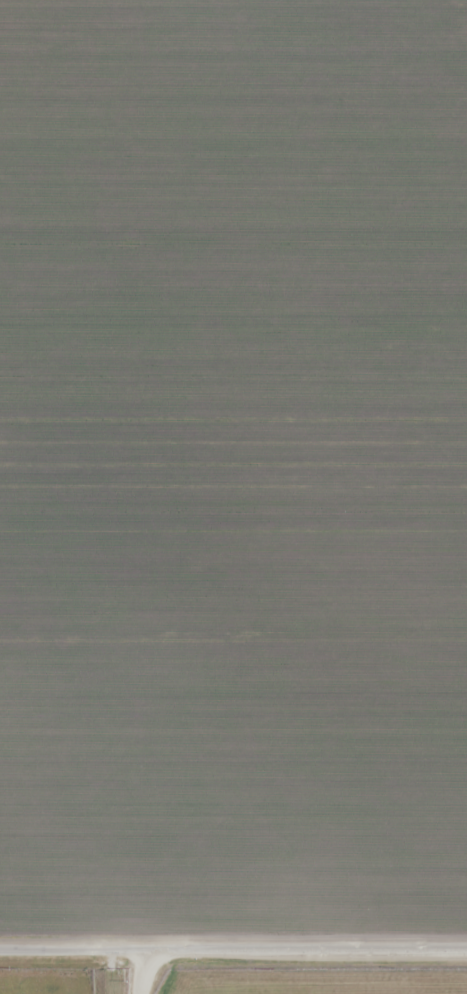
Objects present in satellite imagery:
road: (233, 954)

